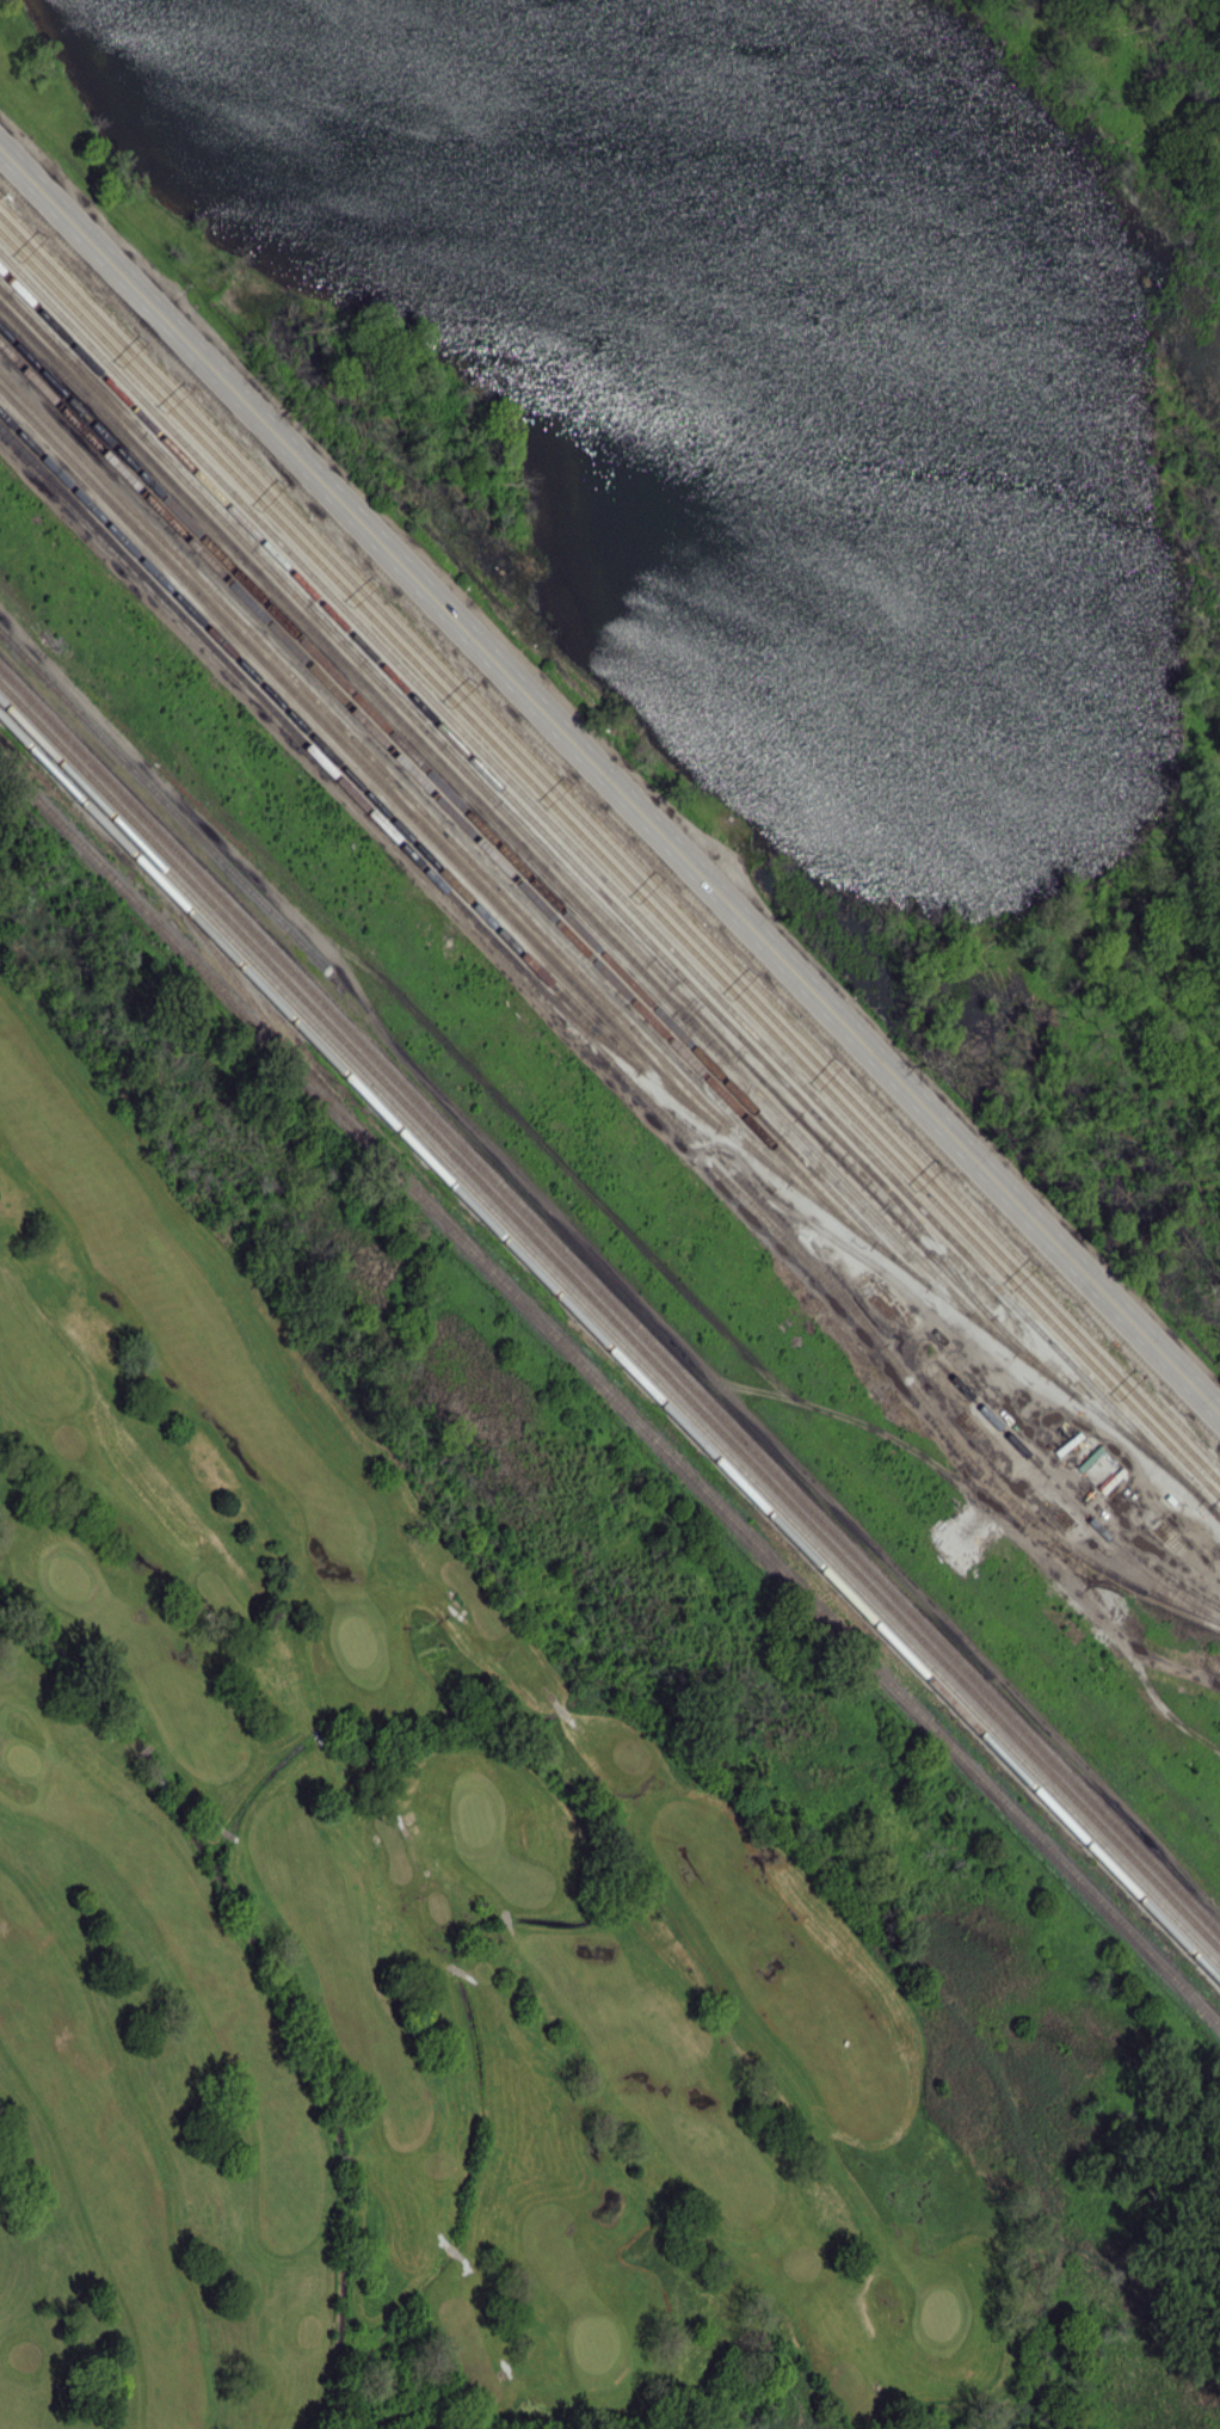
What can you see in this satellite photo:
railway: (16, 731)
railway: (16, 732)
railway: (318, 742)
railway: (357, 758)
railway: (392, 777)
road: (610, 779)
railway: (500, 787)
railway: (435, 794)
railway: (461, 807)
railway: (90, 808)
railway: (505, 829)
railway: (609, 832)
railway: (532, 840)
railway: (609, 848)
railway: (609, 863)
railway: (604, 880)
railway: (162, 928)
railway: (236, 982)
railway: (561, 1007)
railway: (787, 1229)
railway: (610, 1302)
railway: (610, 1317)
railway: (864, 1326)
railway: (609, 1333)
railway: (683, 1425)
road: (1135, 1472)
railway: (1067, 1496)
railway: (1214, 1512)
railway: (1214, 1512)
railway: (771, 1561)
park: (70, 1574)
park: (358, 1641)
road: (548, 1693)
road: (561, 1709)
road: (574, 1724)
road: (314, 1734)
park: (24, 1758)
park: (476, 1816)
road: (216, 1819)
road: (230, 1833)
park: (480, 1859)
road: (505, 1921)
road: (456, 1968)
road: (344, 2157)
road: (443, 2239)
road: (454, 2250)
road: (467, 2259)
park: (941, 2311)
park: (596, 2342)

